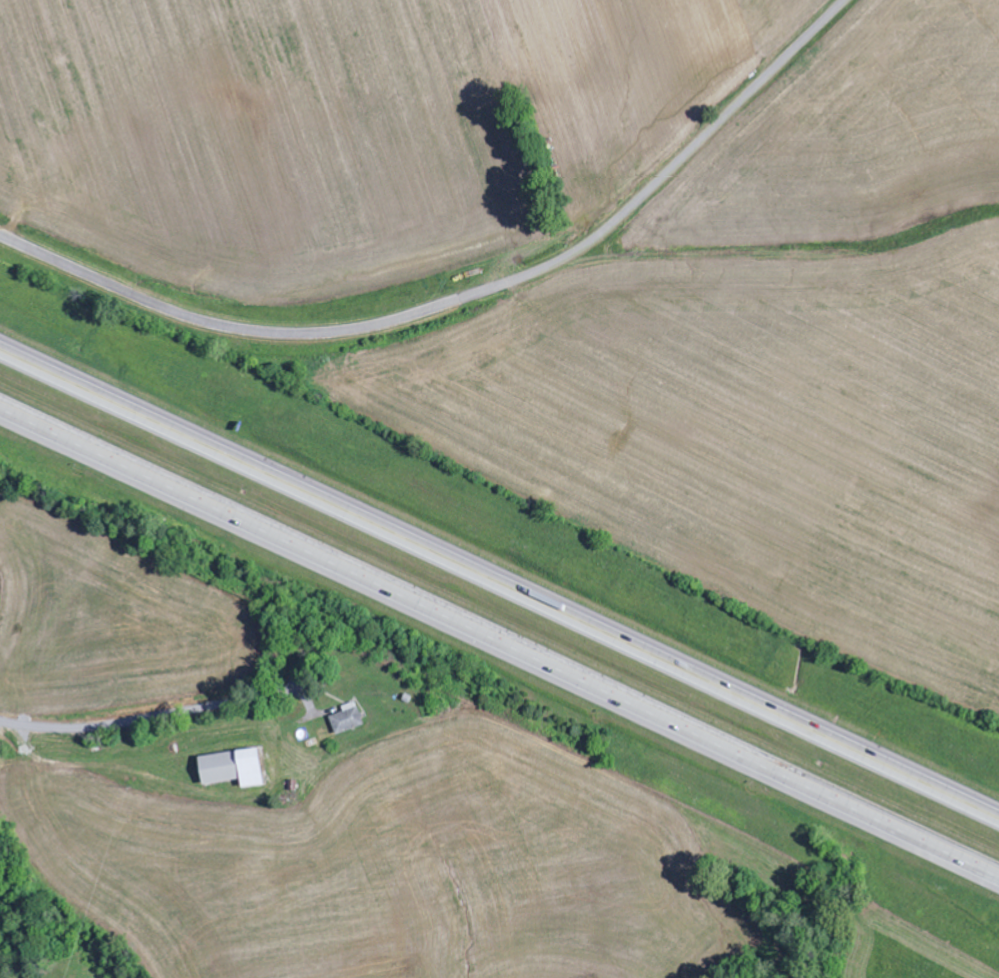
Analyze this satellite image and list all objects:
road: (464, 297)
road: (499, 585)
road: (498, 646)
road: (146, 718)
building: (348, 720)
building: (234, 769)

